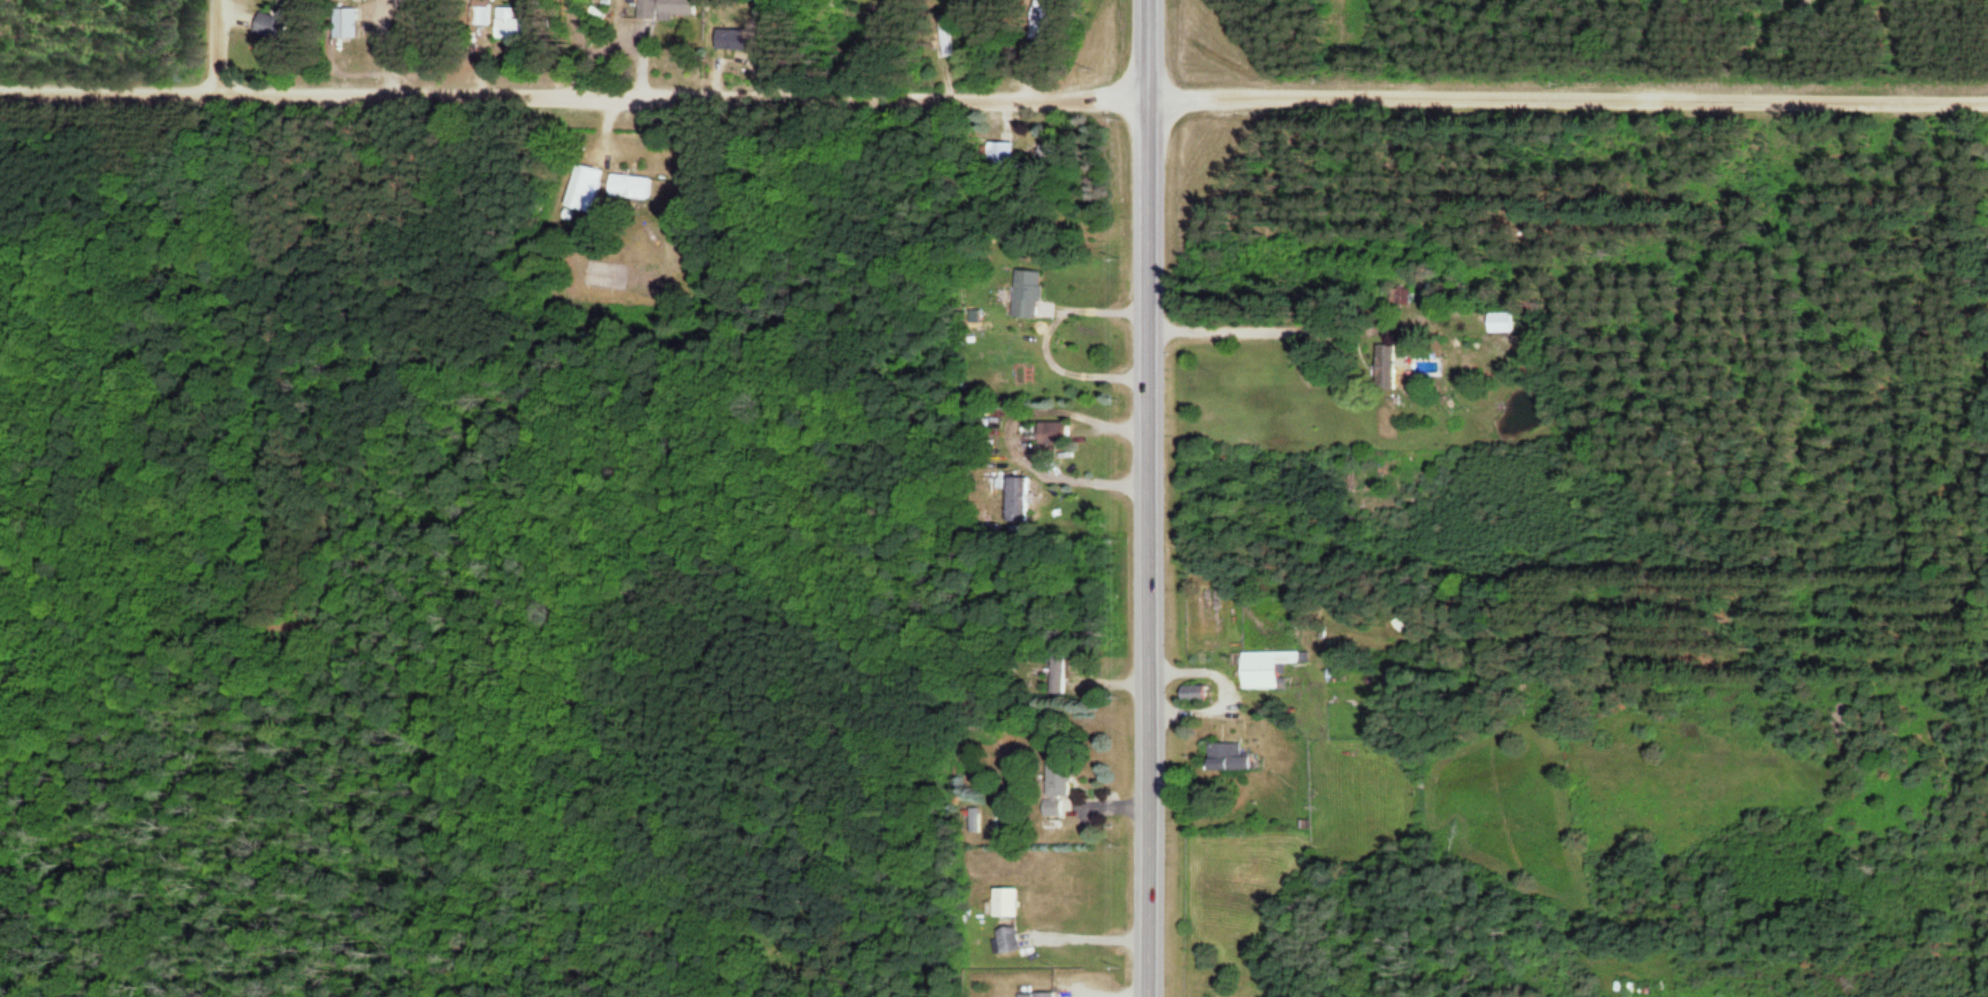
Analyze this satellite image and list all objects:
building: (665, 8)
building: (480, 15)
building: (343, 22)
building: (509, 23)
building: (947, 35)
road: (220, 47)
road: (574, 96)
road: (1568, 100)
building: (1002, 154)
building: (629, 187)
building: (585, 189)
building: (1028, 294)
building: (1397, 299)
building: (1498, 322)
building: (1383, 360)
building: (1018, 367)
building: (1052, 434)
road: (1149, 498)
building: (1019, 499)
building: (1264, 667)
building: (1058, 674)
building: (1224, 756)
building: (1056, 787)
building: (979, 820)
building: (1005, 902)
building: (1008, 939)
building: (1042, 995)

